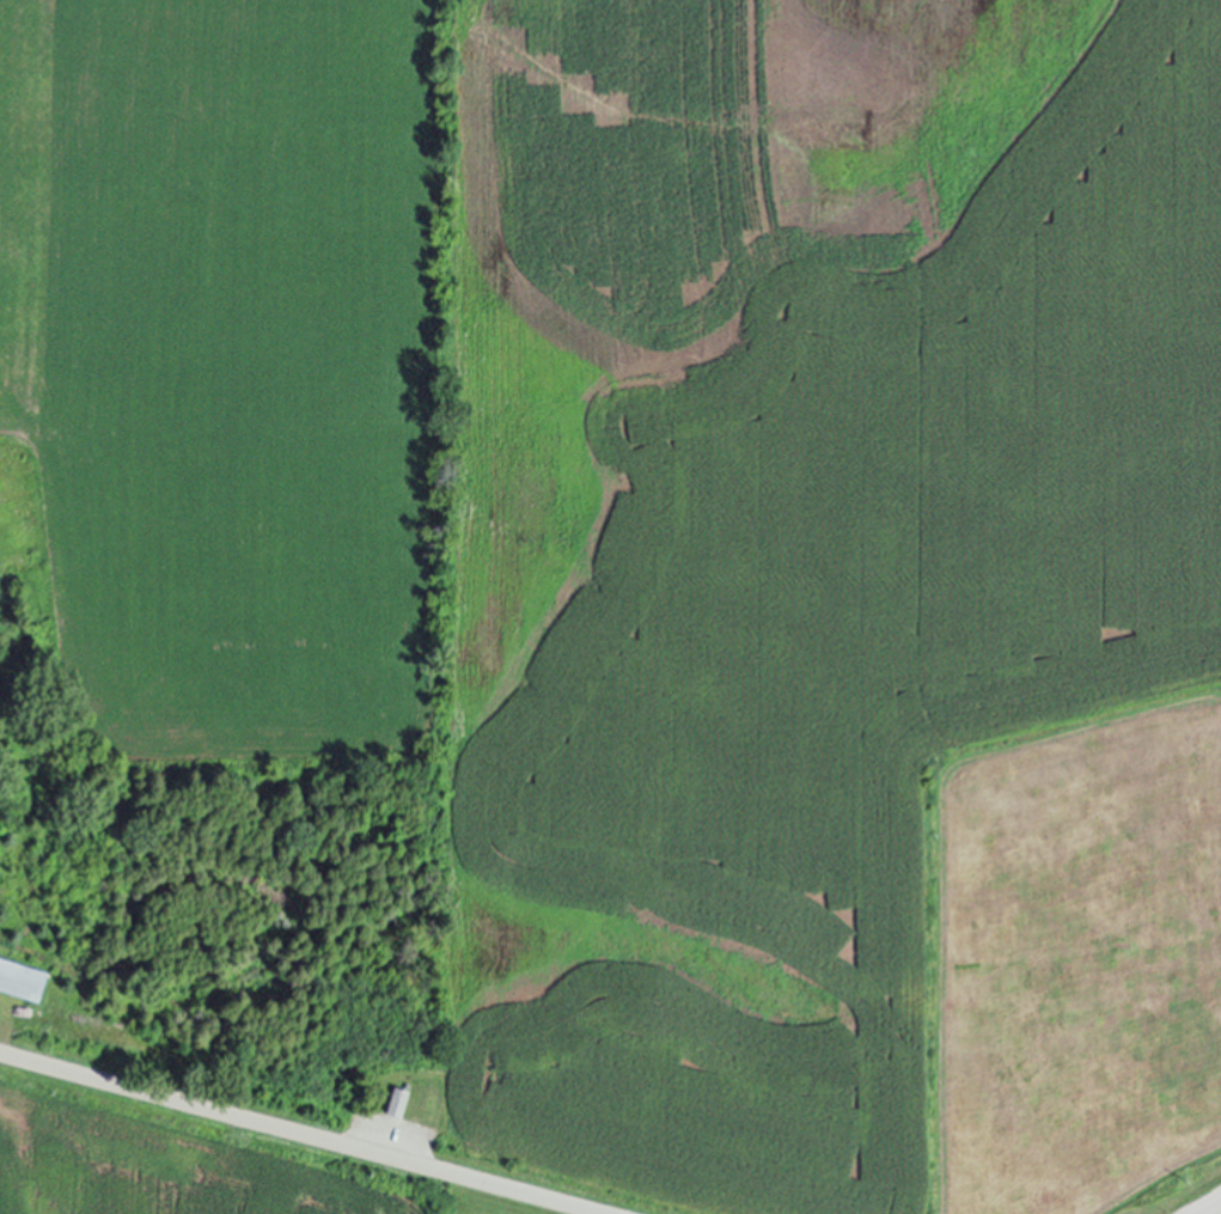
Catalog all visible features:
building: (24, 980)
building: (399, 1102)
road: (300, 1134)
road: (1219, 1213)

